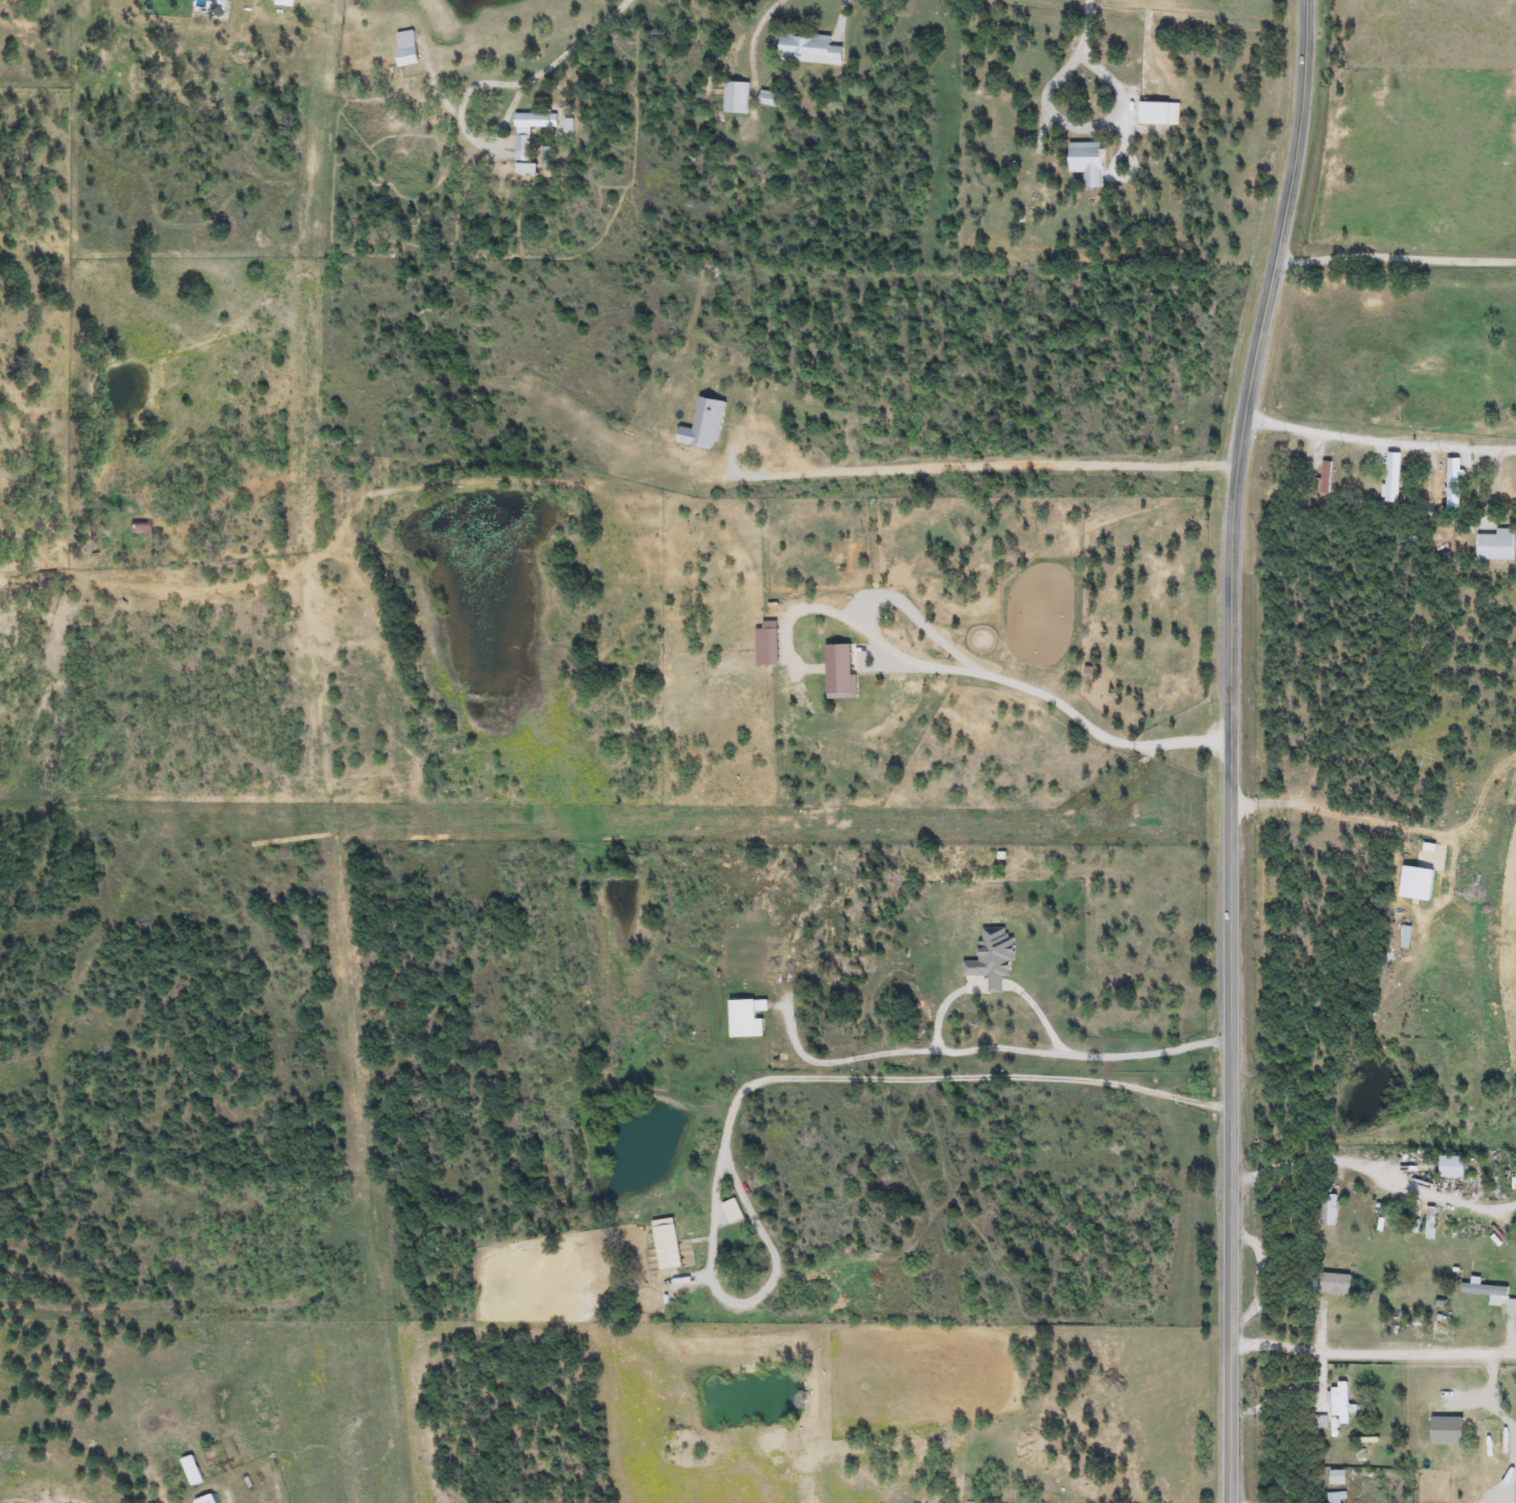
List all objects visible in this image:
road: (844, 14)
road: (1083, 31)
building: (405, 48)
building: (807, 48)
road: (564, 55)
building: (735, 98)
building: (1155, 113)
building: (528, 129)
road: (1088, 134)
building: (1086, 162)
road: (1395, 259)
road: (1379, 440)
road: (985, 464)
building: (1324, 477)
building: (1392, 478)
building: (1452, 483)
building: (1427, 484)
building: (1494, 545)
road: (1057, 703)
road: (1227, 748)
building: (1330, 826)
building: (1404, 937)
road: (942, 1007)
road: (1040, 1014)
building: (743, 1019)
road: (1369, 1050)
road: (989, 1051)
road: (771, 1078)
building: (1451, 1167)
road: (1370, 1173)
building: (1327, 1210)
building: (1429, 1223)
building: (1334, 1283)
building: (1492, 1295)
road: (1370, 1350)
building: (1339, 1403)
building: (1464, 1410)
building: (1363, 1448)
building: (1337, 1478)
building: (1335, 1497)
building: (205, 1499)

